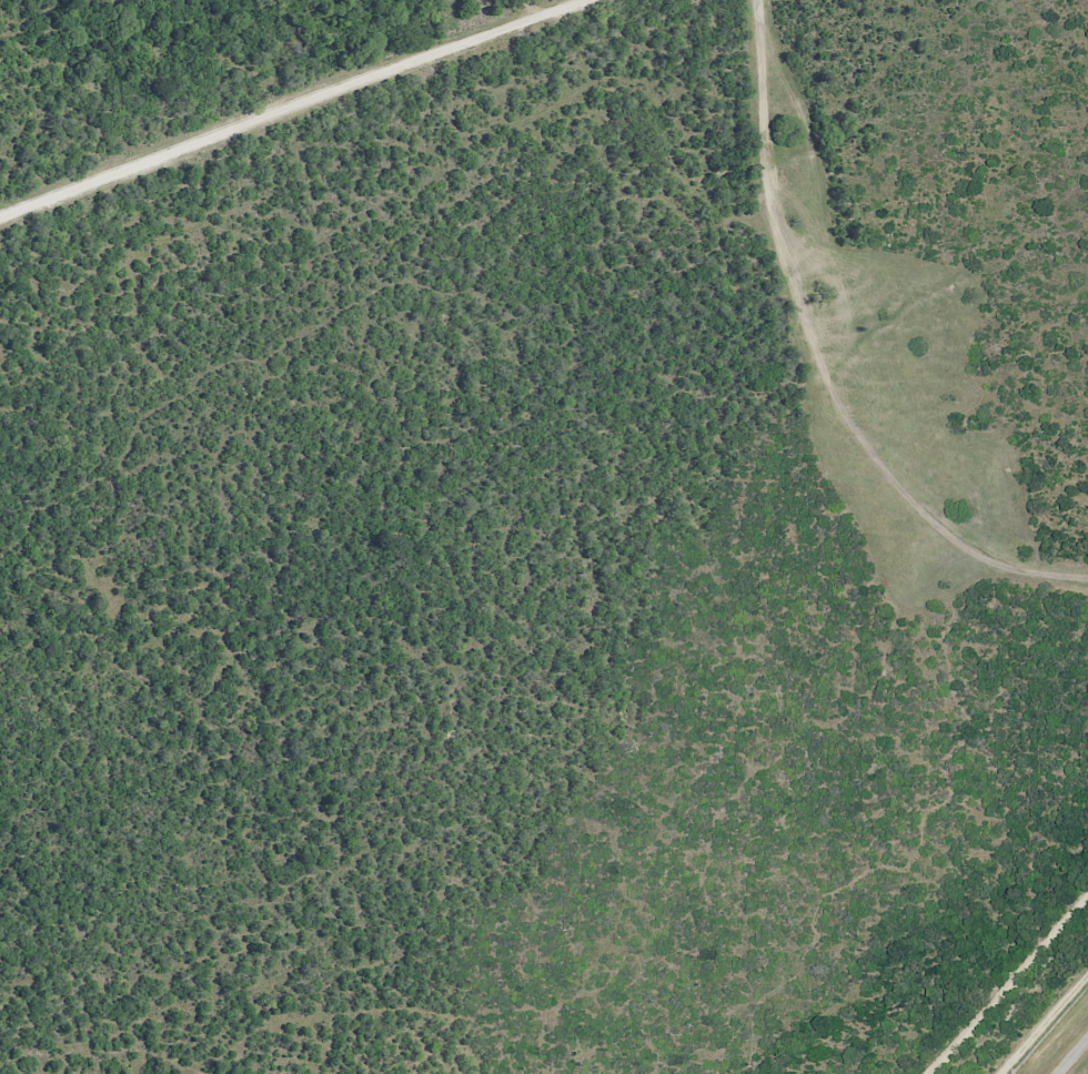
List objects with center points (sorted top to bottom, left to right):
road: (299, 111)
road: (1087, 1042)
road: (1072, 1058)

